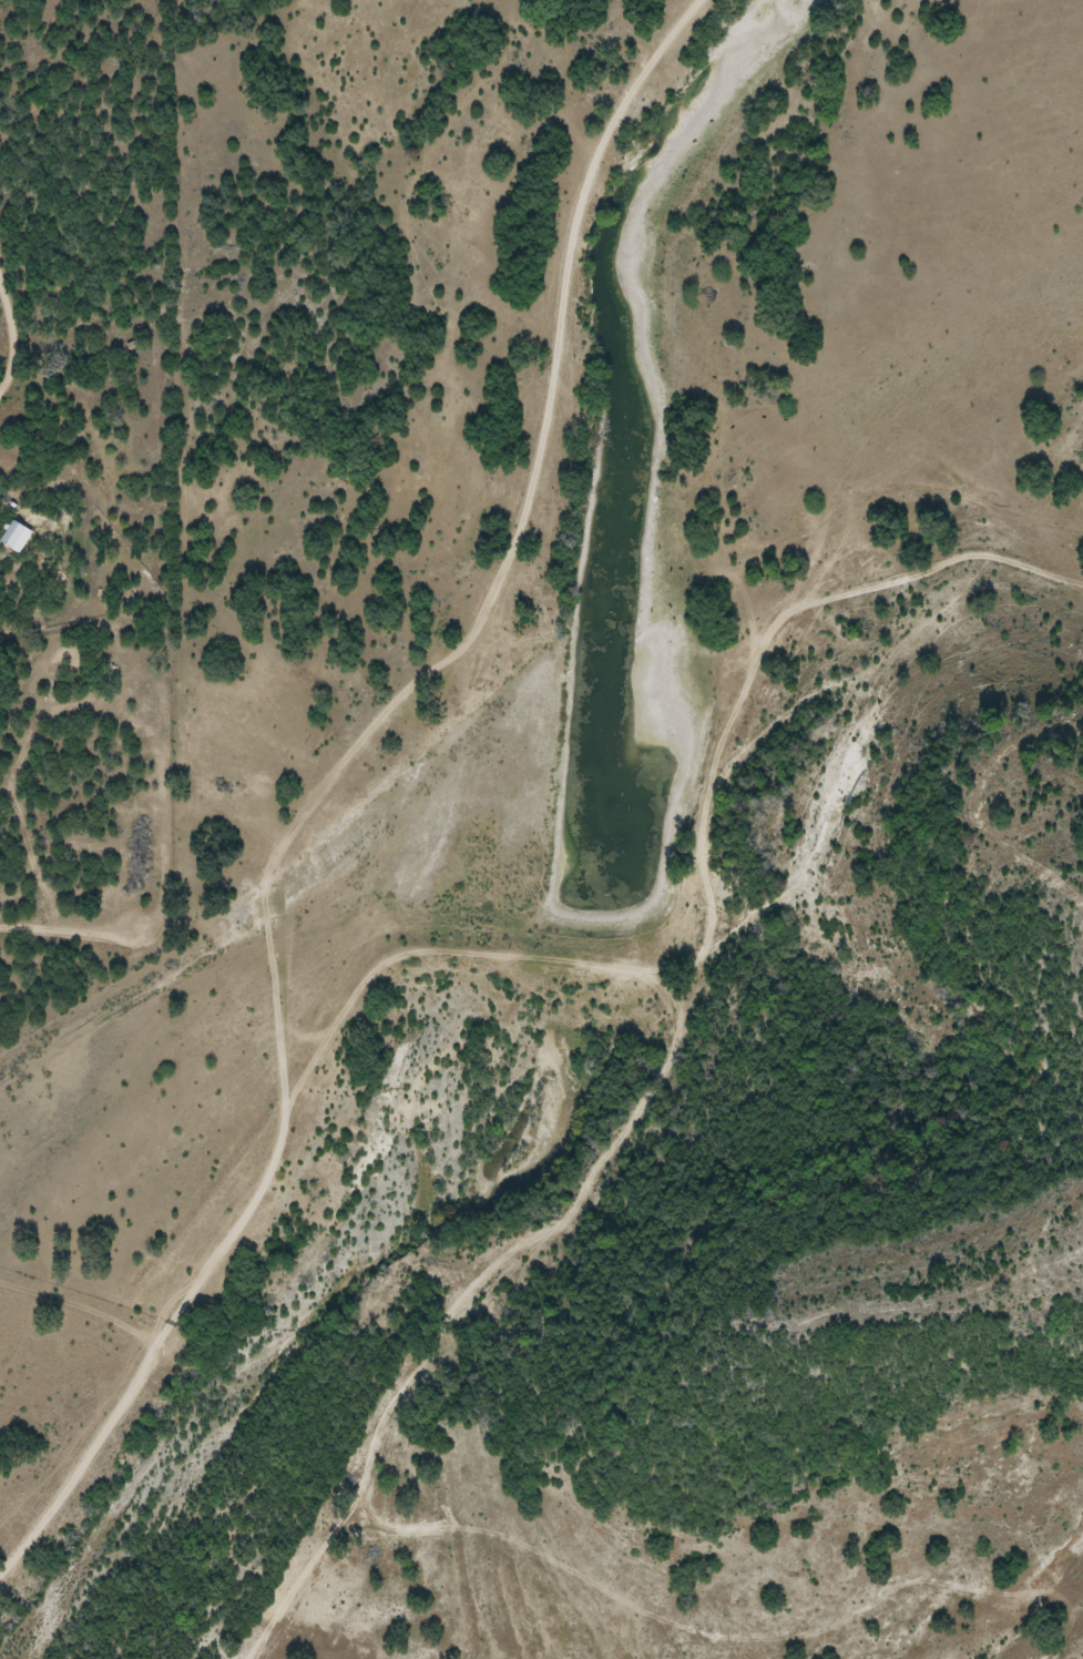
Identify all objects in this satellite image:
road: (16, 405)
road: (541, 479)
road: (147, 932)
road: (207, 1268)

